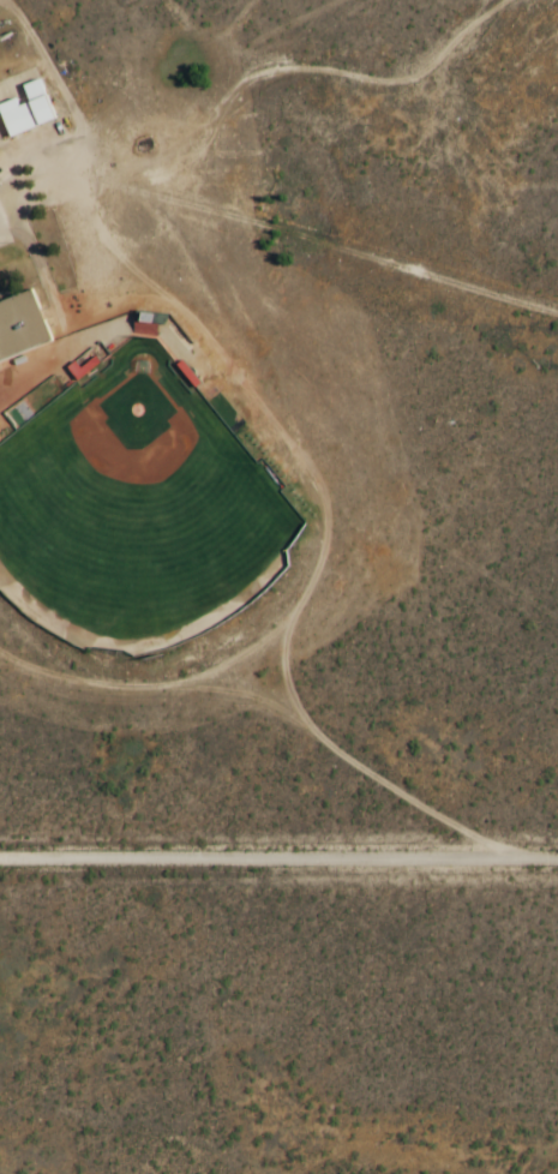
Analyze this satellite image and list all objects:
road: (23, 62)
road: (301, 67)
road: (64, 83)
building: (28, 115)
road: (78, 172)
road: (4, 188)
road: (8, 221)
parking lot: (5, 230)
road: (8, 245)
road: (356, 251)
road: (40, 263)
building: (22, 329)
road: (215, 343)
road: (36, 359)
road: (36, 377)
park: (134, 509)
road: (328, 545)
road: (278, 865)

